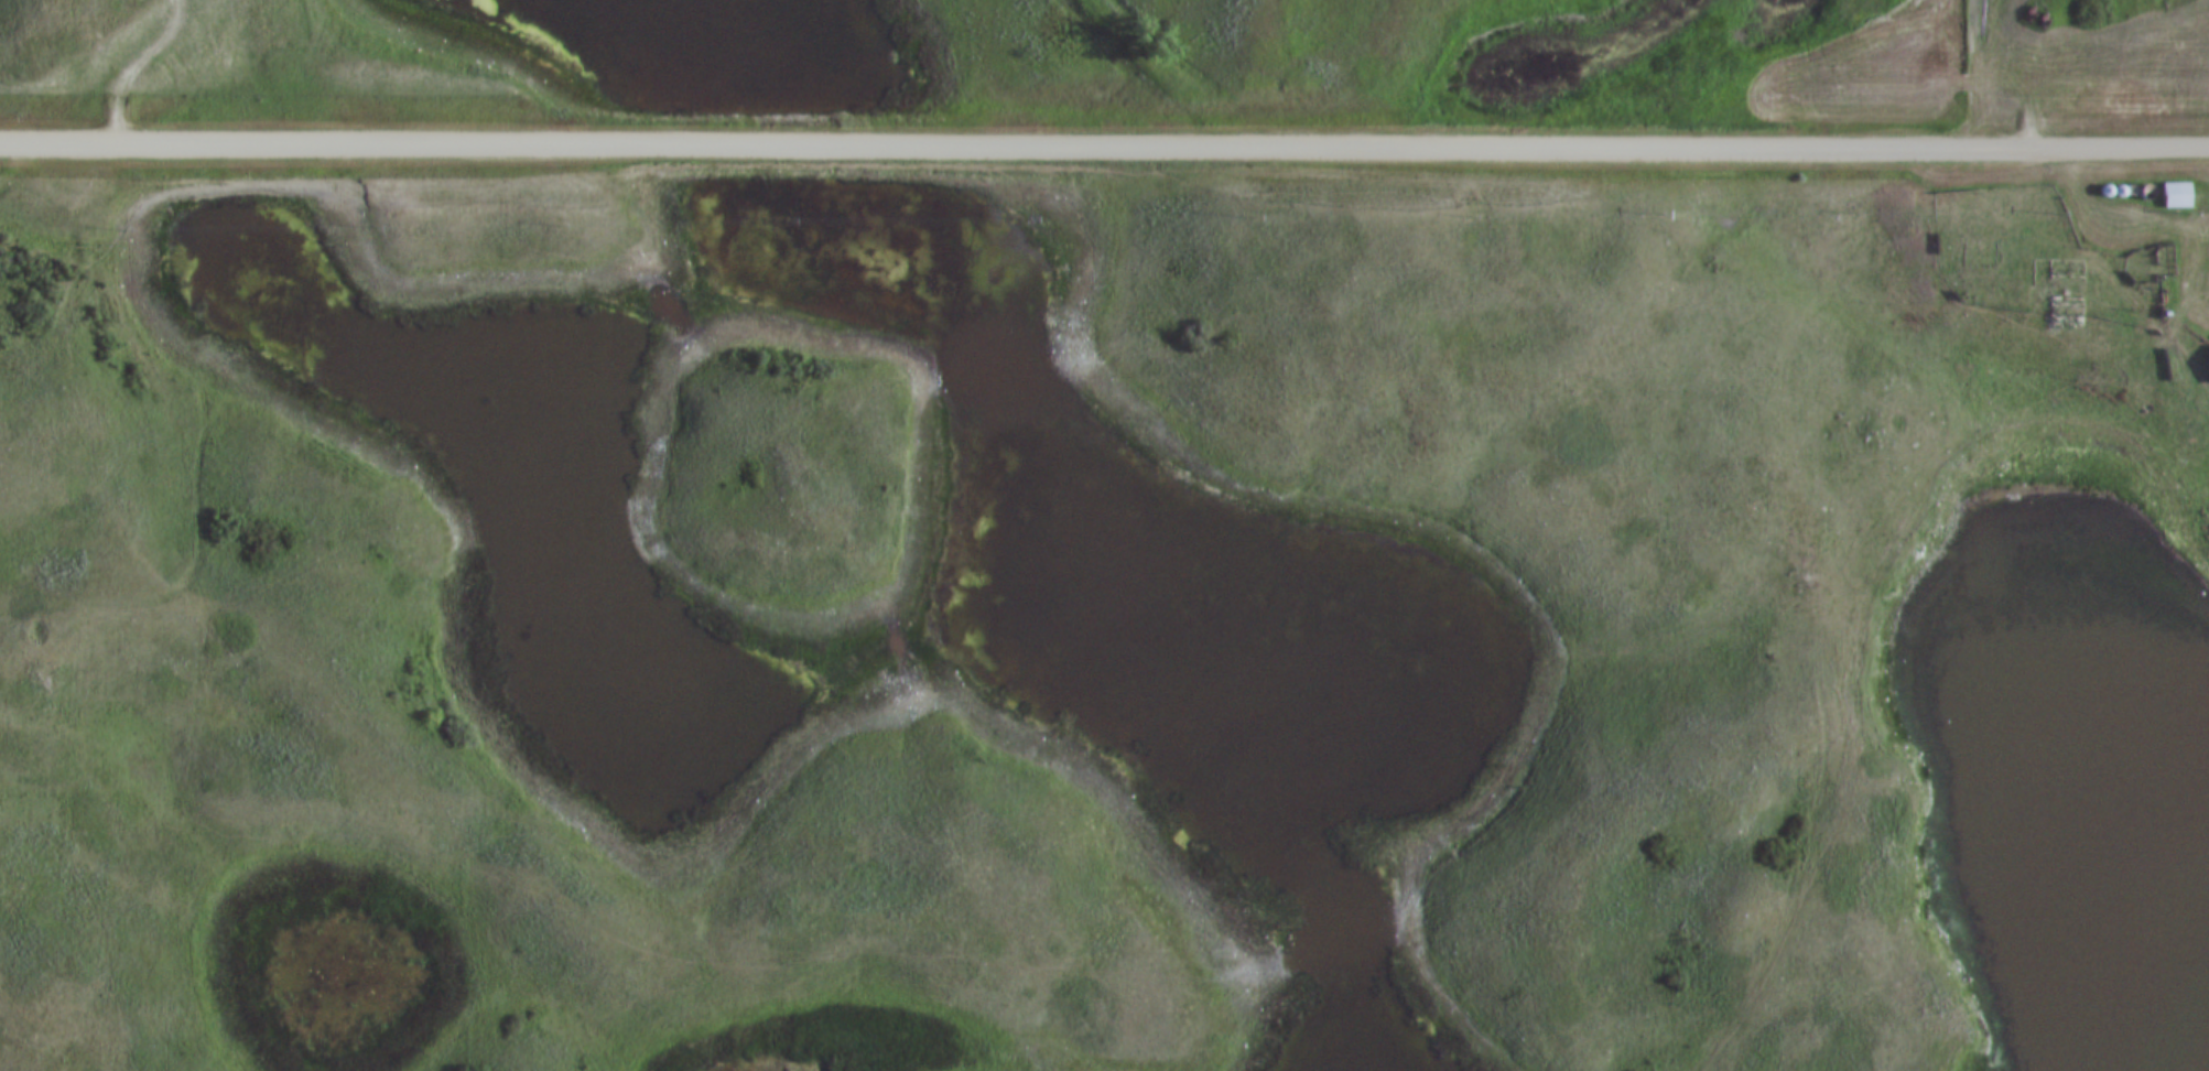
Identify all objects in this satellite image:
road: (137, 63)
road: (1104, 140)
building: (2172, 201)

